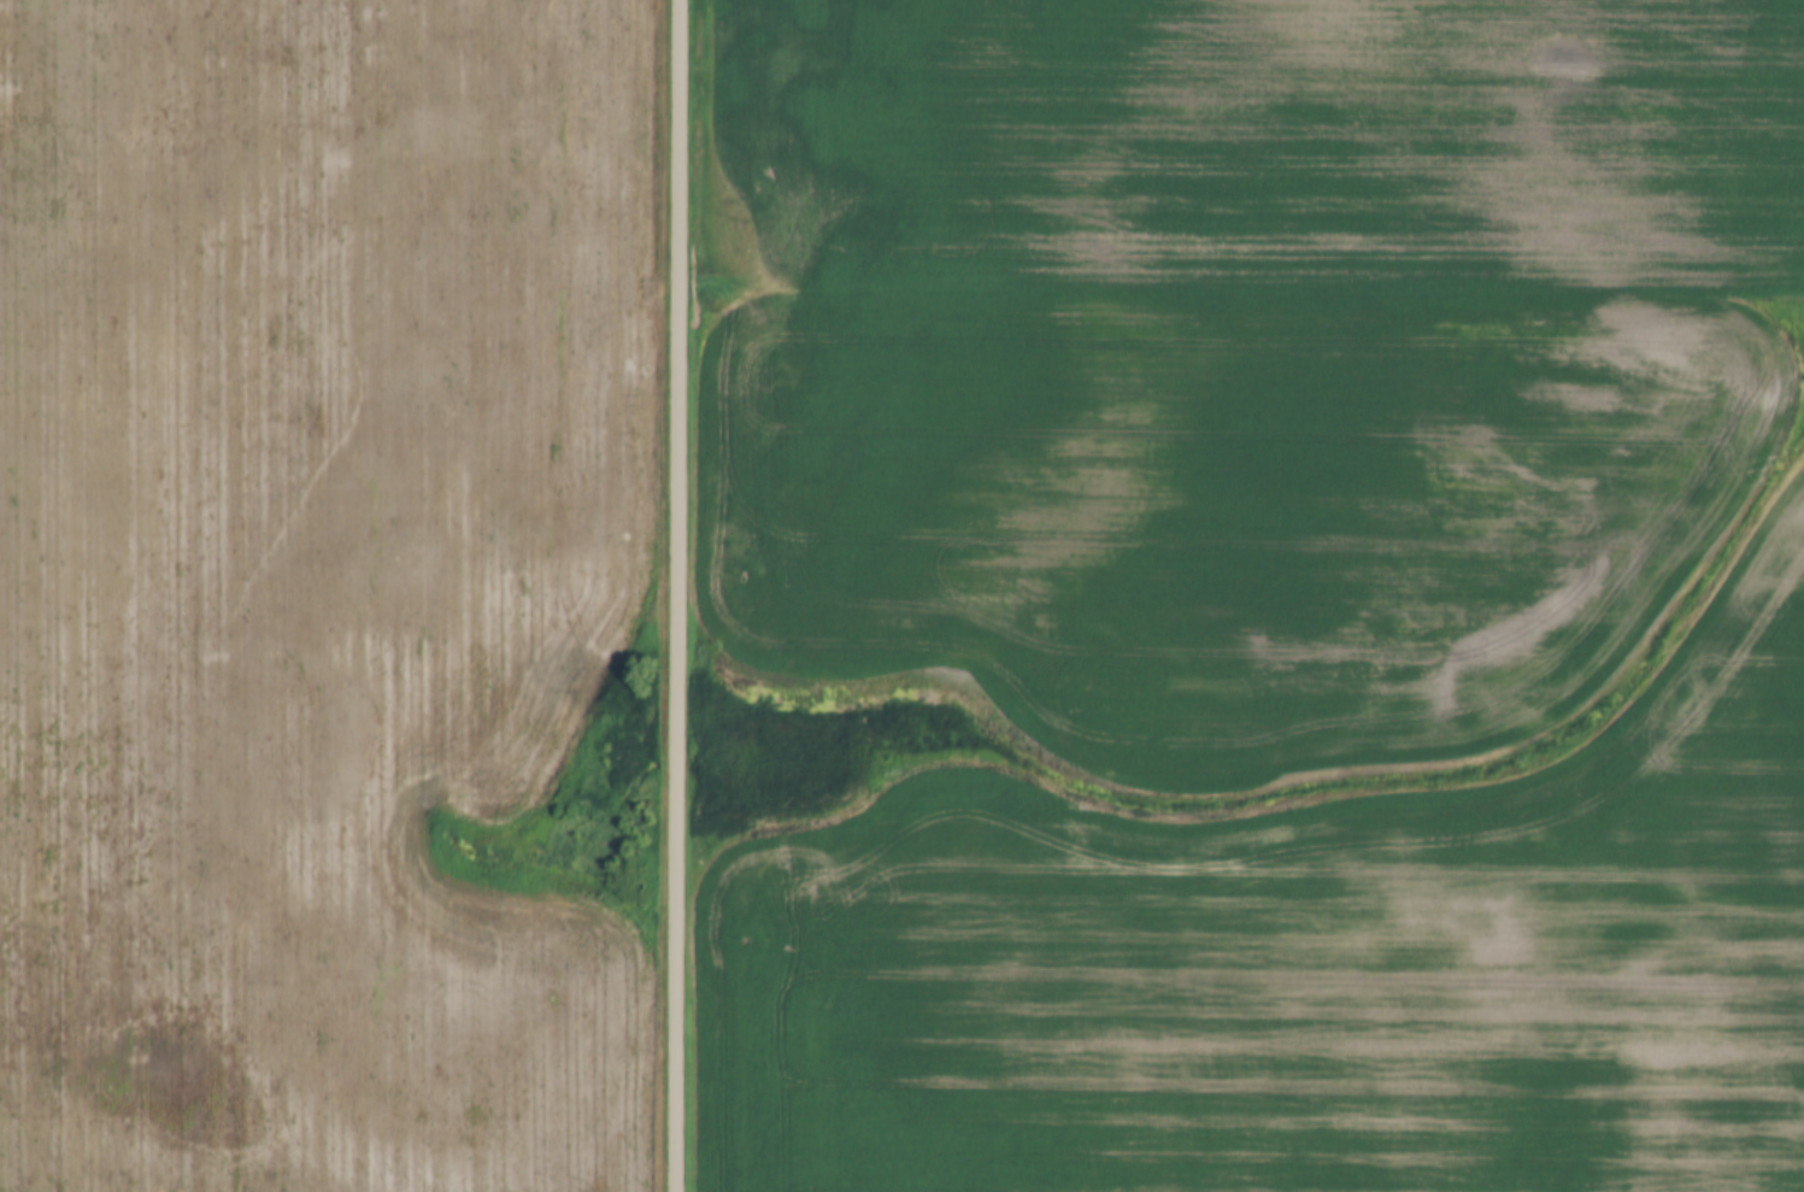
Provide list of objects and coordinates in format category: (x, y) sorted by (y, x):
road: (680, 595)

